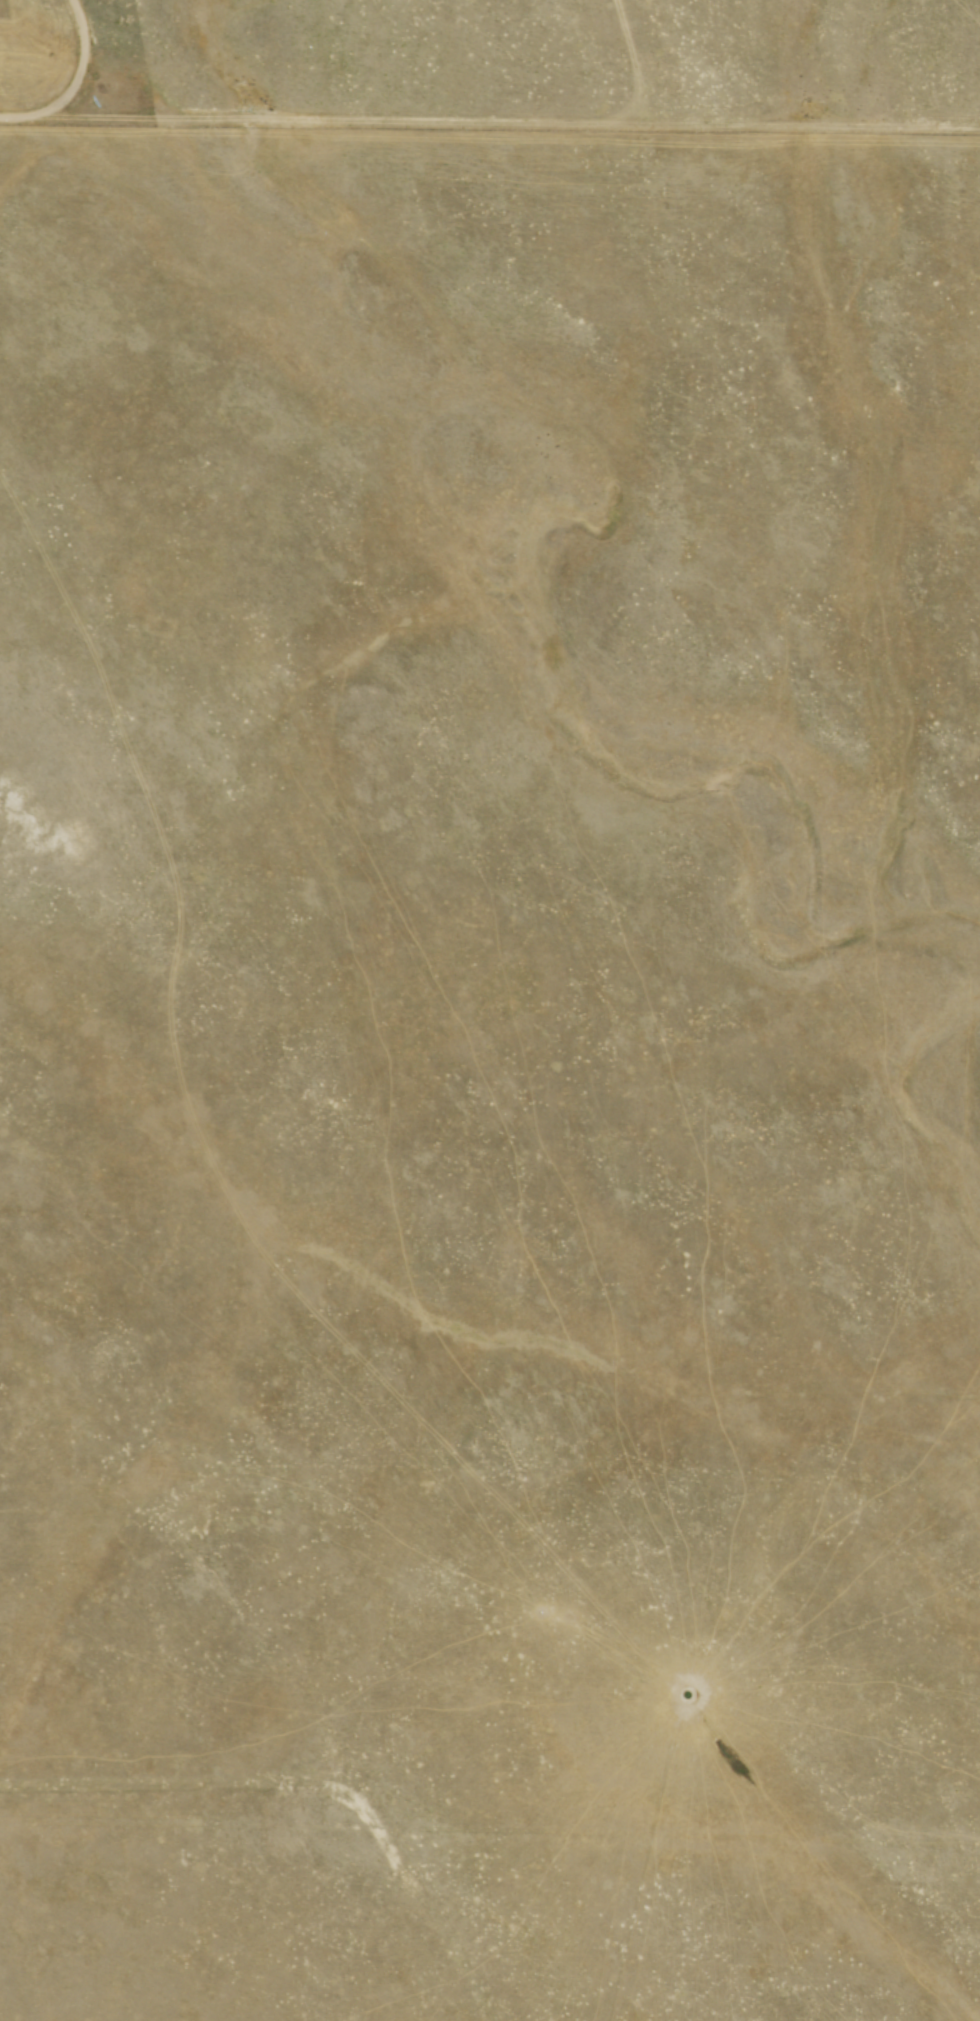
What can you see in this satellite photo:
road: (490, 106)

